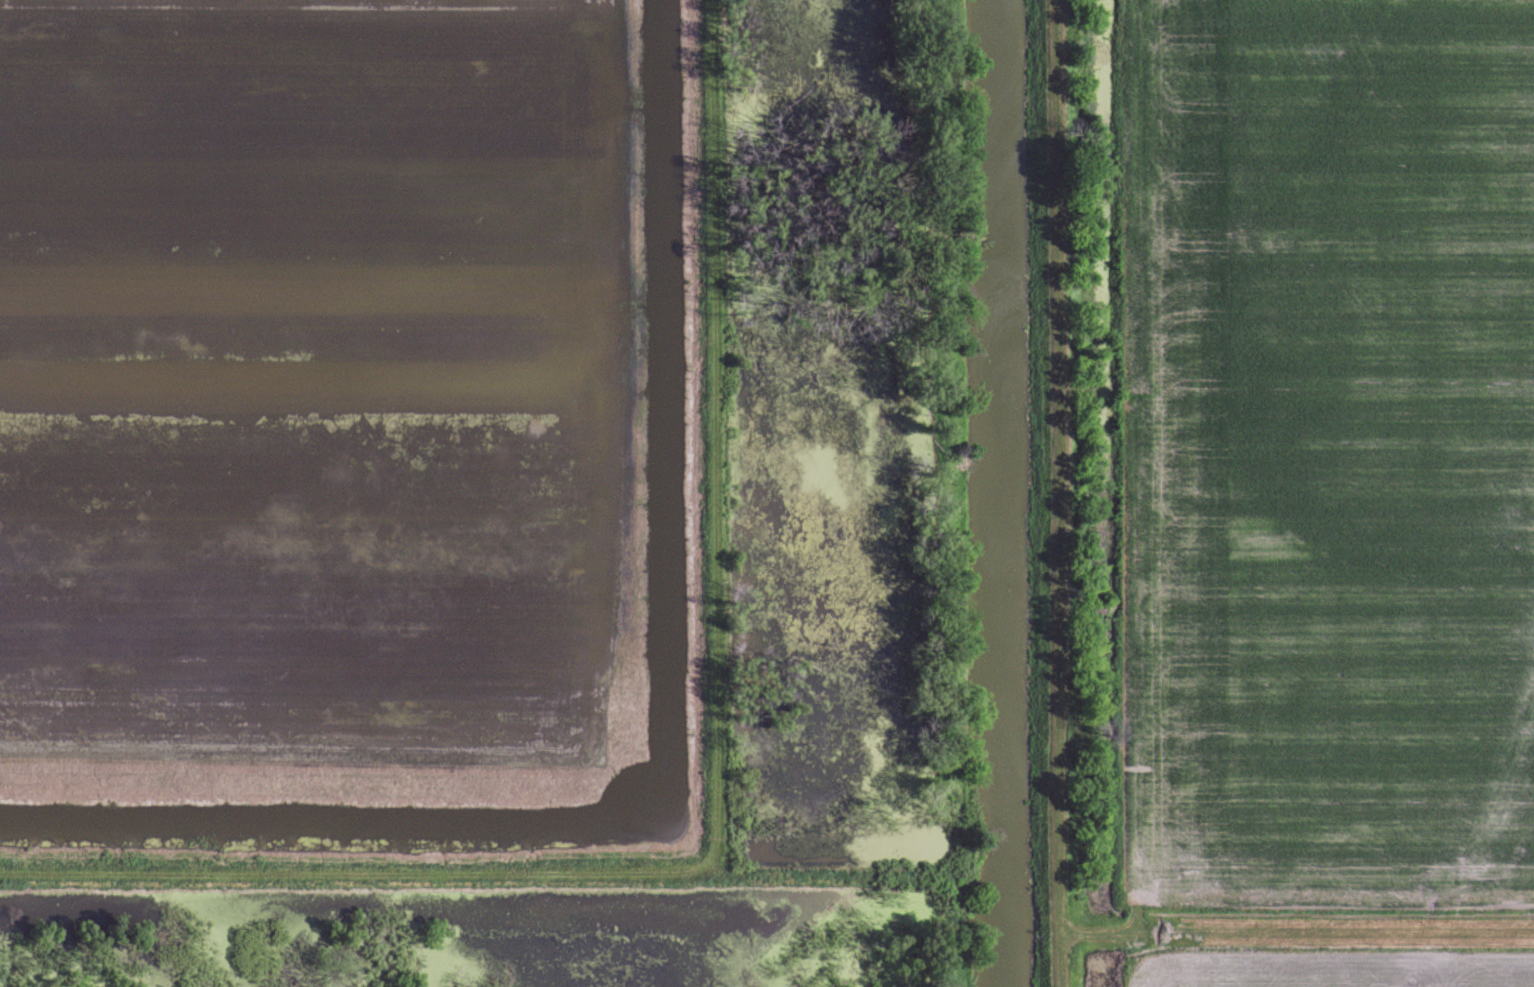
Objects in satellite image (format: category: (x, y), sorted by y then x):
crop: (1328, 450)
road: (1057, 463)
crop: (1330, 969)

